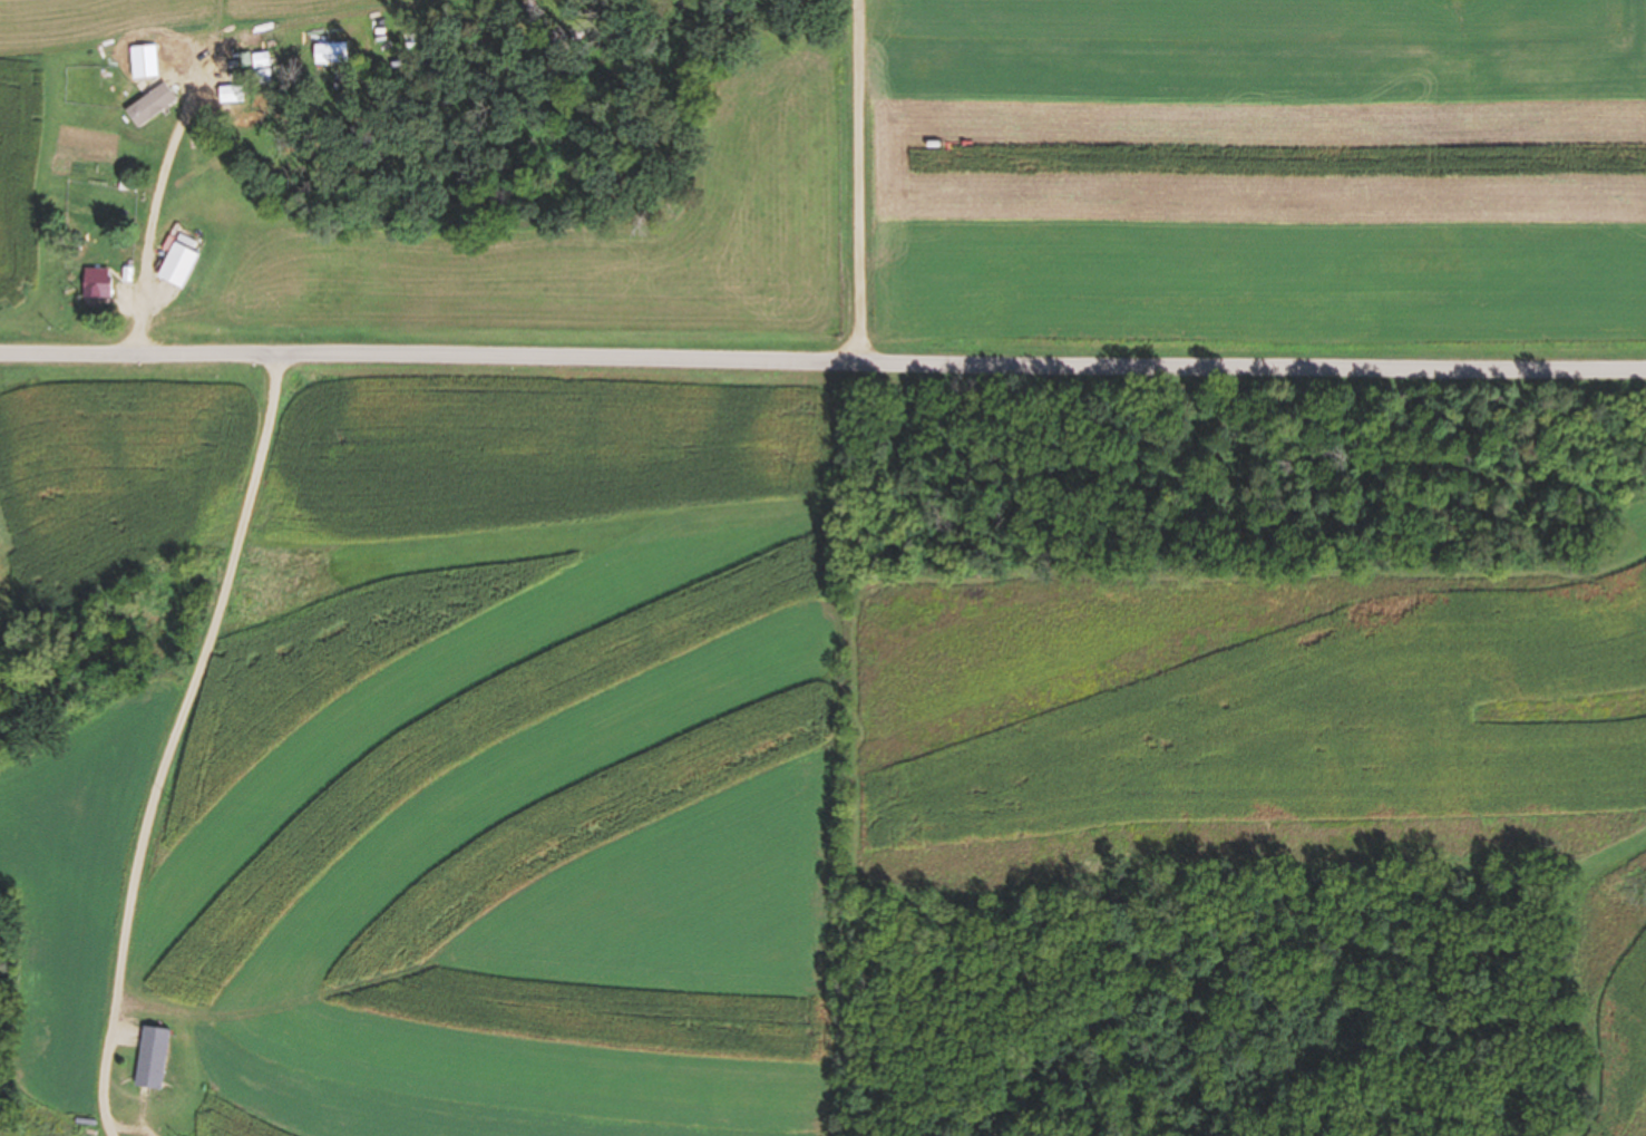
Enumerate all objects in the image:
road: (860, 179)
building: (177, 265)
building: (98, 285)
road: (822, 358)
road: (183, 708)
building: (152, 1058)

